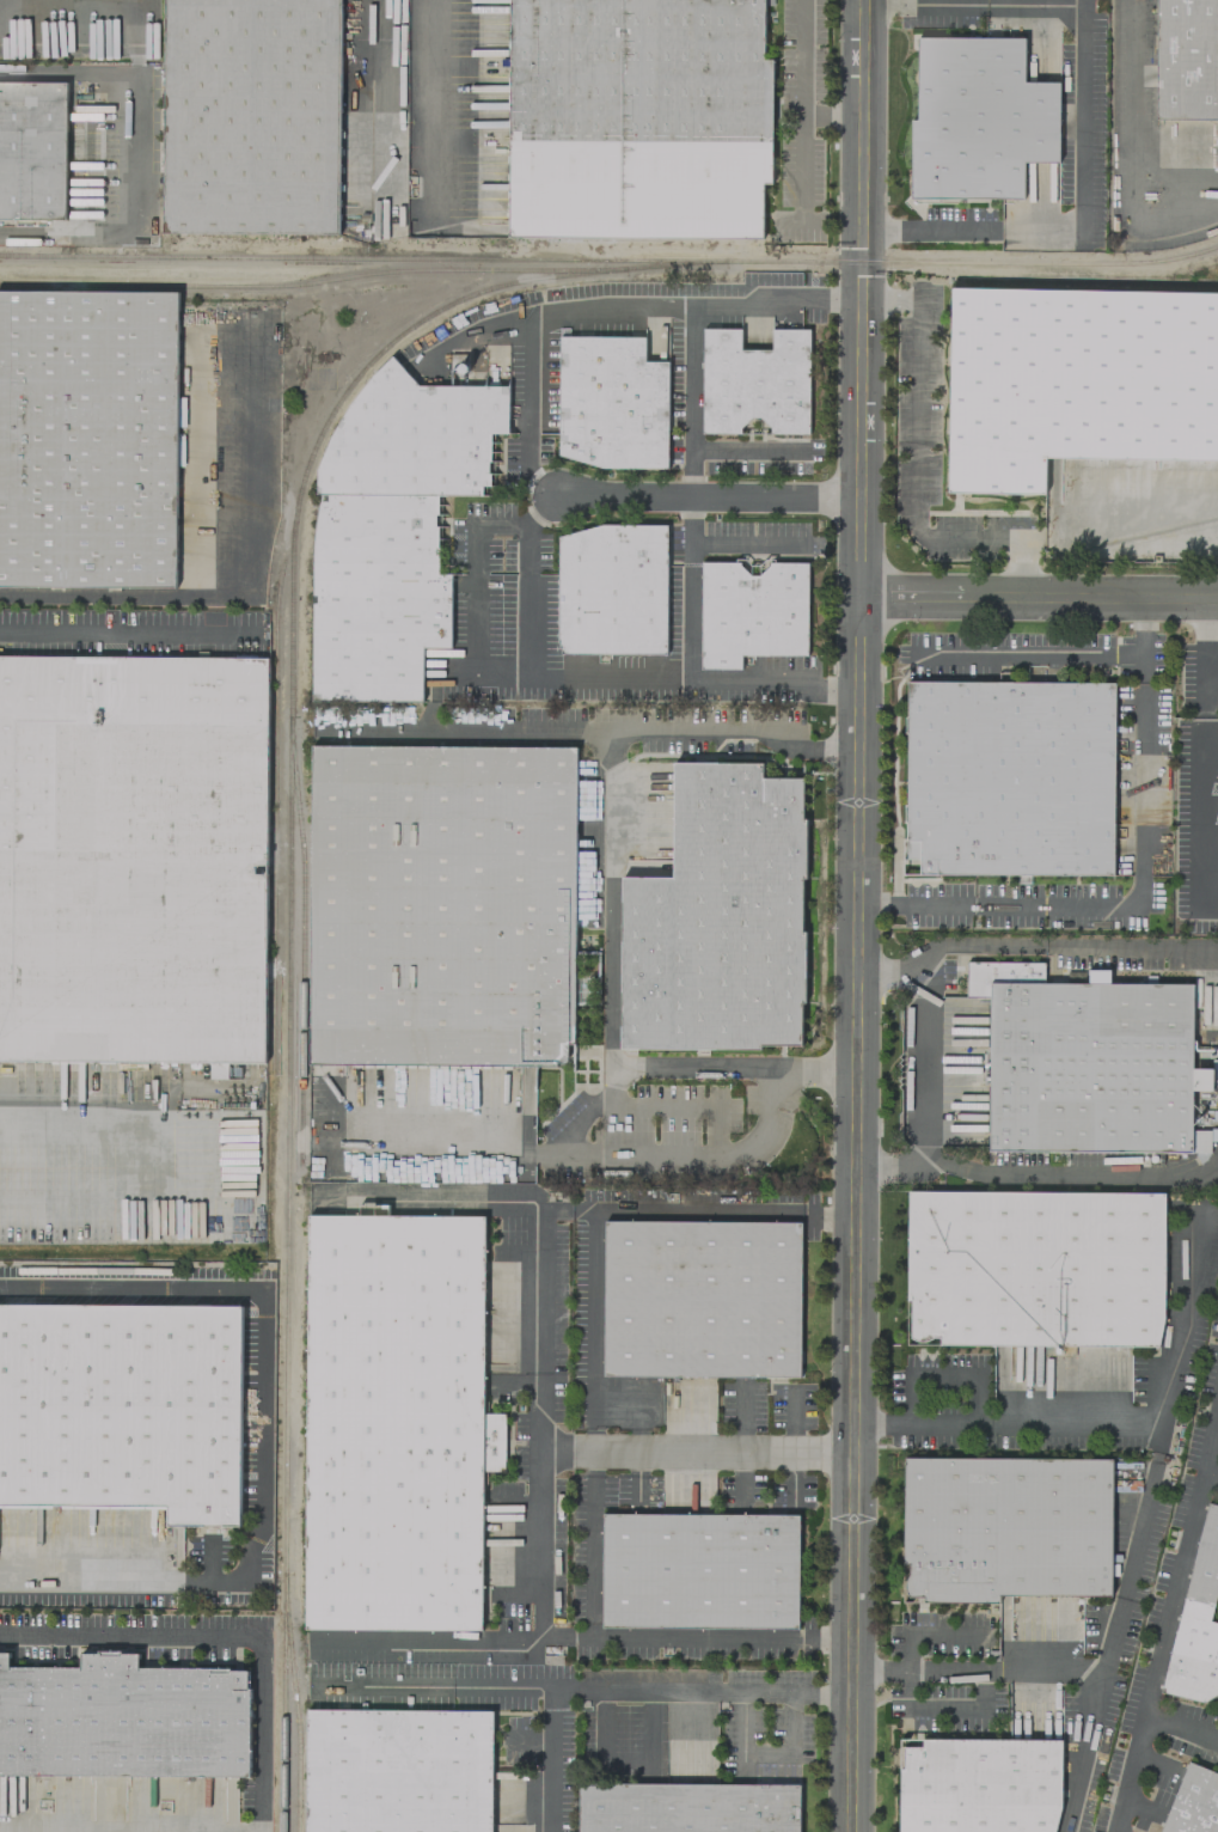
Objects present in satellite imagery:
road: (975, 4)
building: (1186, 59)
road: (377, 100)
road: (804, 111)
road: (435, 112)
road: (834, 114)
building: (251, 117)
building: (639, 117)
building: (978, 120)
building: (31, 149)
road: (134, 149)
road: (1121, 158)
road: (1082, 219)
railway: (361, 256)
railway: (307, 283)
road: (602, 310)
road: (473, 330)
building: (1075, 380)
building: (755, 383)
road: (688, 399)
building: (613, 402)
building: (179, 411)
building: (87, 438)
building: (412, 439)
road: (746, 450)
road: (917, 469)
road: (706, 494)
road: (1151, 513)
road: (746, 544)
road: (241, 584)
road: (686, 587)
road: (1038, 587)
building: (613, 591)
building: (377, 596)
road: (530, 604)
building: (752, 612)
road: (129, 630)
railway: (288, 648)
road: (1032, 657)
road: (541, 679)
road: (461, 729)
road: (1196, 744)
building: (1011, 778)
railway: (274, 787)
building: (1216, 812)
building: (1217, 823)
building: (131, 857)
road: (1142, 887)
road: (610, 891)
building: (445, 905)
road: (856, 915)
building: (717, 917)
road: (1026, 944)
railway: (300, 946)
road: (923, 1068)
building: (1090, 1068)
road: (776, 1083)
road: (610, 1085)
road: (691, 1104)
road: (753, 1141)
road: (448, 1153)
road: (178, 1154)
road: (540, 1154)
road: (589, 1154)
road: (1036, 1175)
road: (601, 1210)
road: (567, 1211)
building: (1034, 1268)
building: (699, 1299)
road: (1187, 1326)
road: (264, 1333)
road: (541, 1335)
building: (121, 1406)
road: (636, 1406)
building: (394, 1422)
road: (697, 1453)
road: (1211, 1466)
road: (1140, 1522)
building: (1004, 1528)
road: (590, 1529)
road: (208, 1557)
building: (698, 1570)
road: (91, 1578)
road: (1167, 1612)
building: (1196, 1623)
road: (227, 1635)
road: (582, 1637)
road: (435, 1681)
road: (626, 1681)
railway: (294, 1715)
building: (122, 1718)
road: (1180, 1727)
road: (1084, 1747)
building: (397, 1770)
building: (979, 1785)
building: (1193, 1802)
building: (686, 1808)

